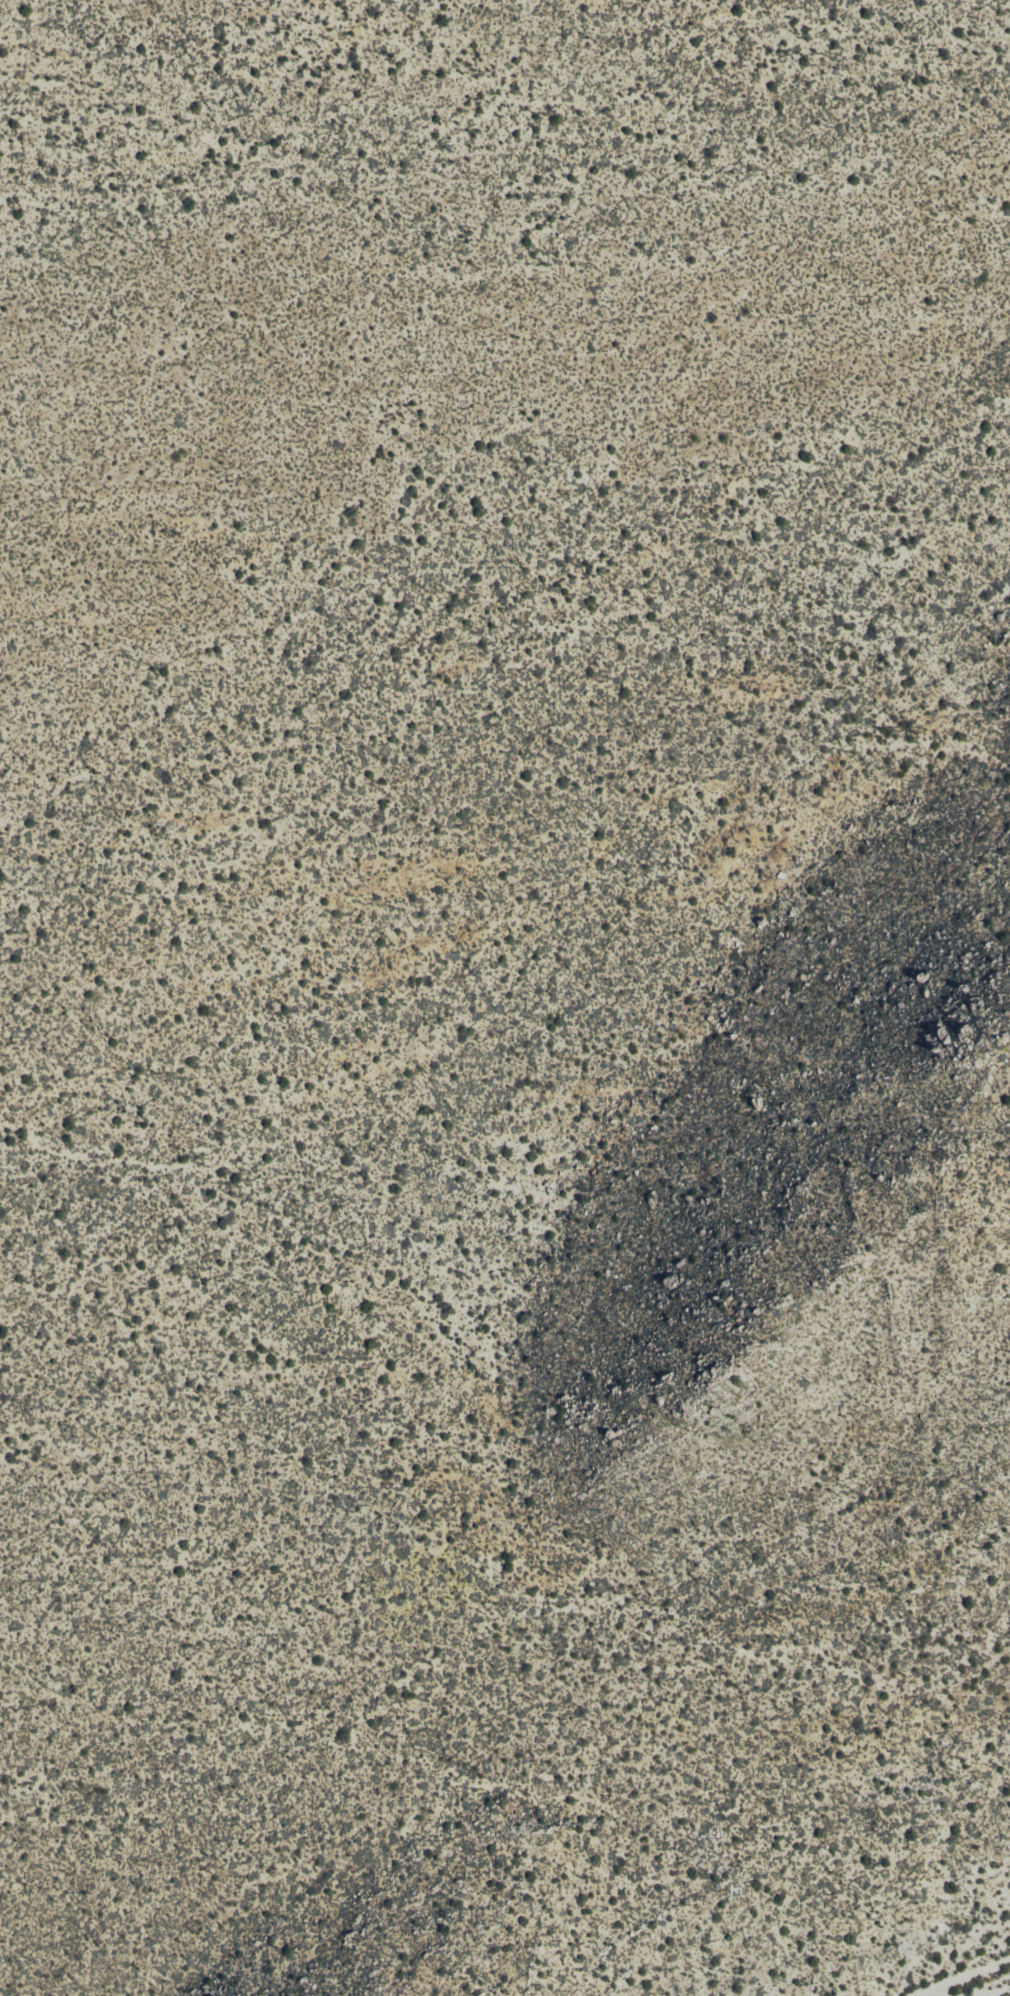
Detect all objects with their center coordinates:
road: (962, 1974)

